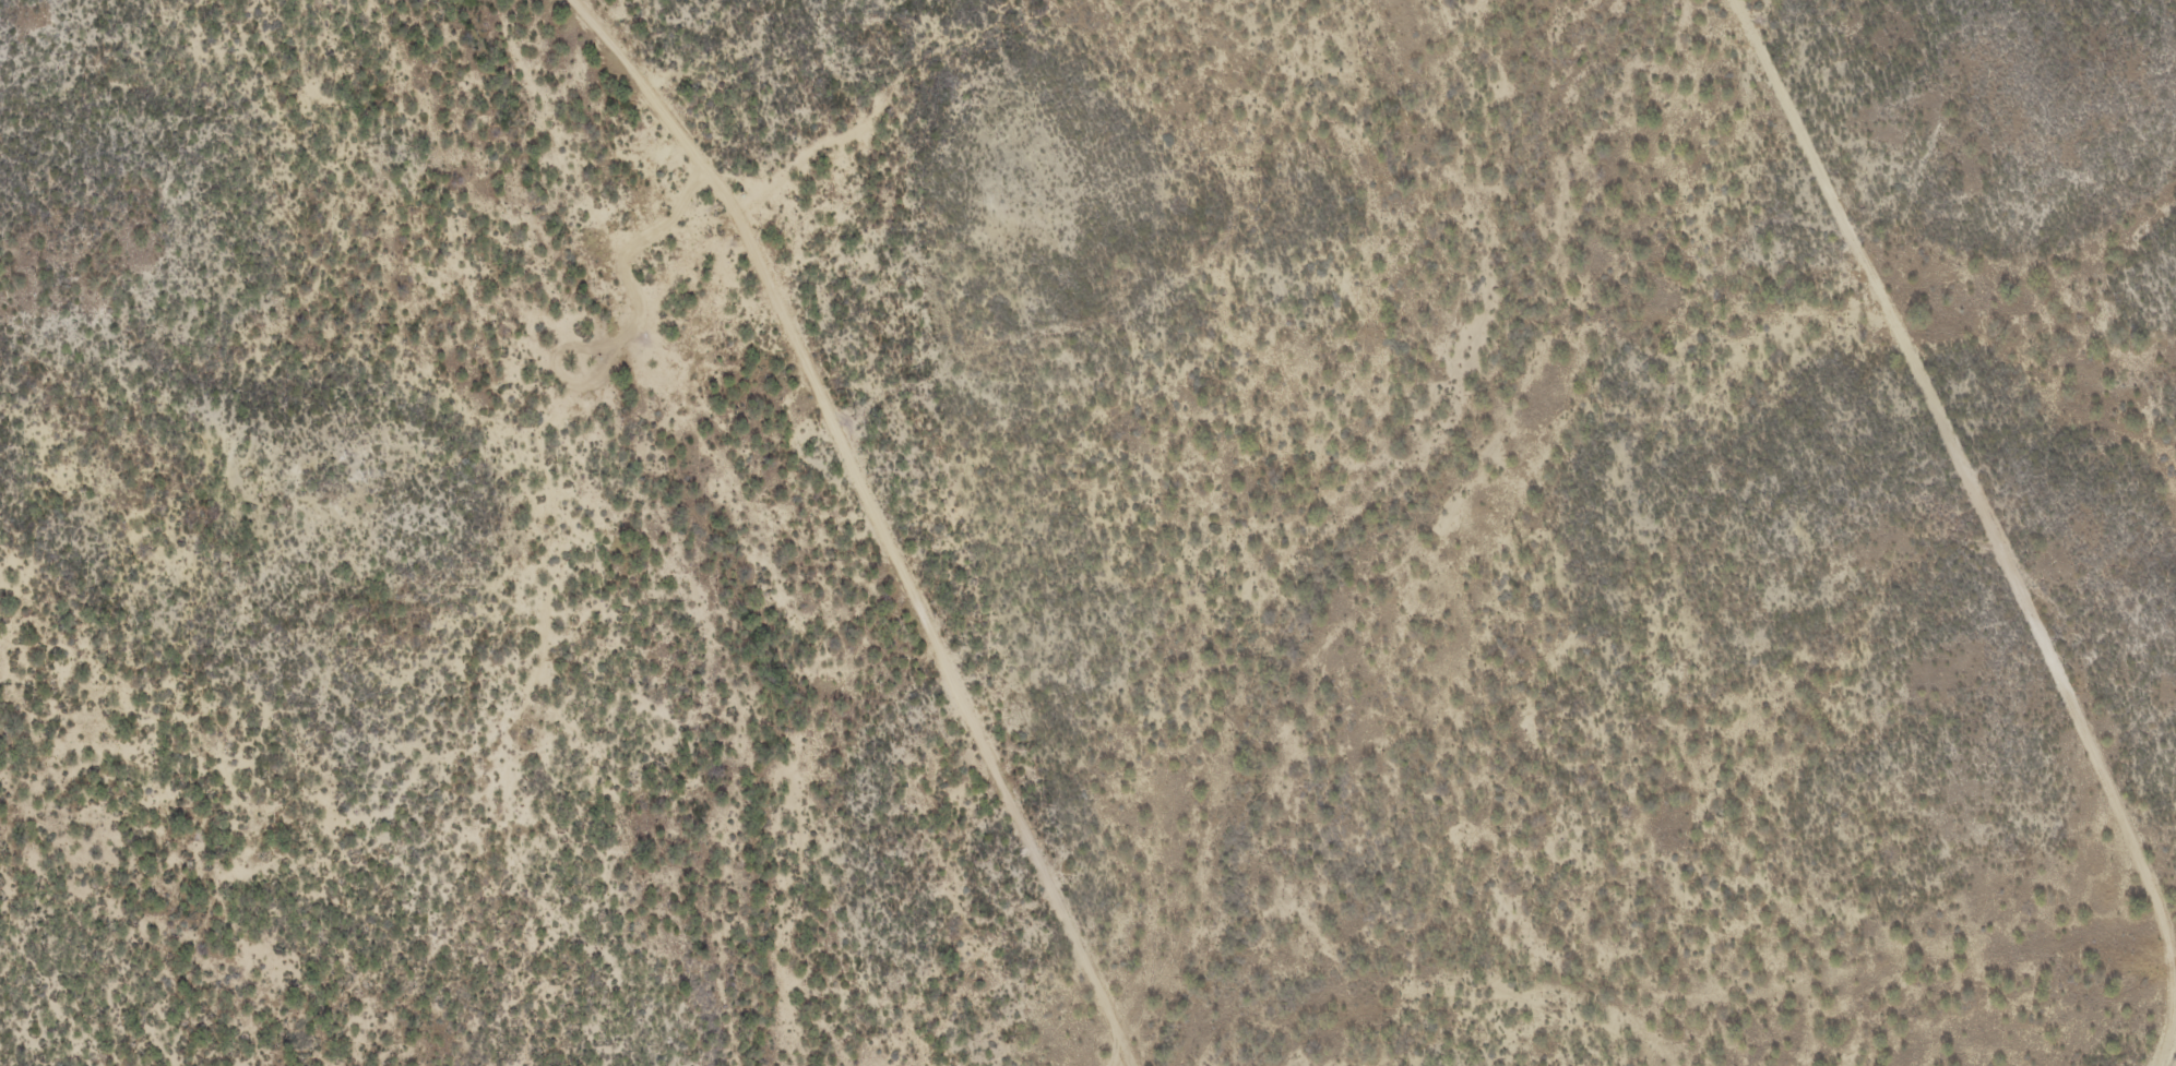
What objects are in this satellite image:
road: (1972, 471)
road: (2169, 1050)

